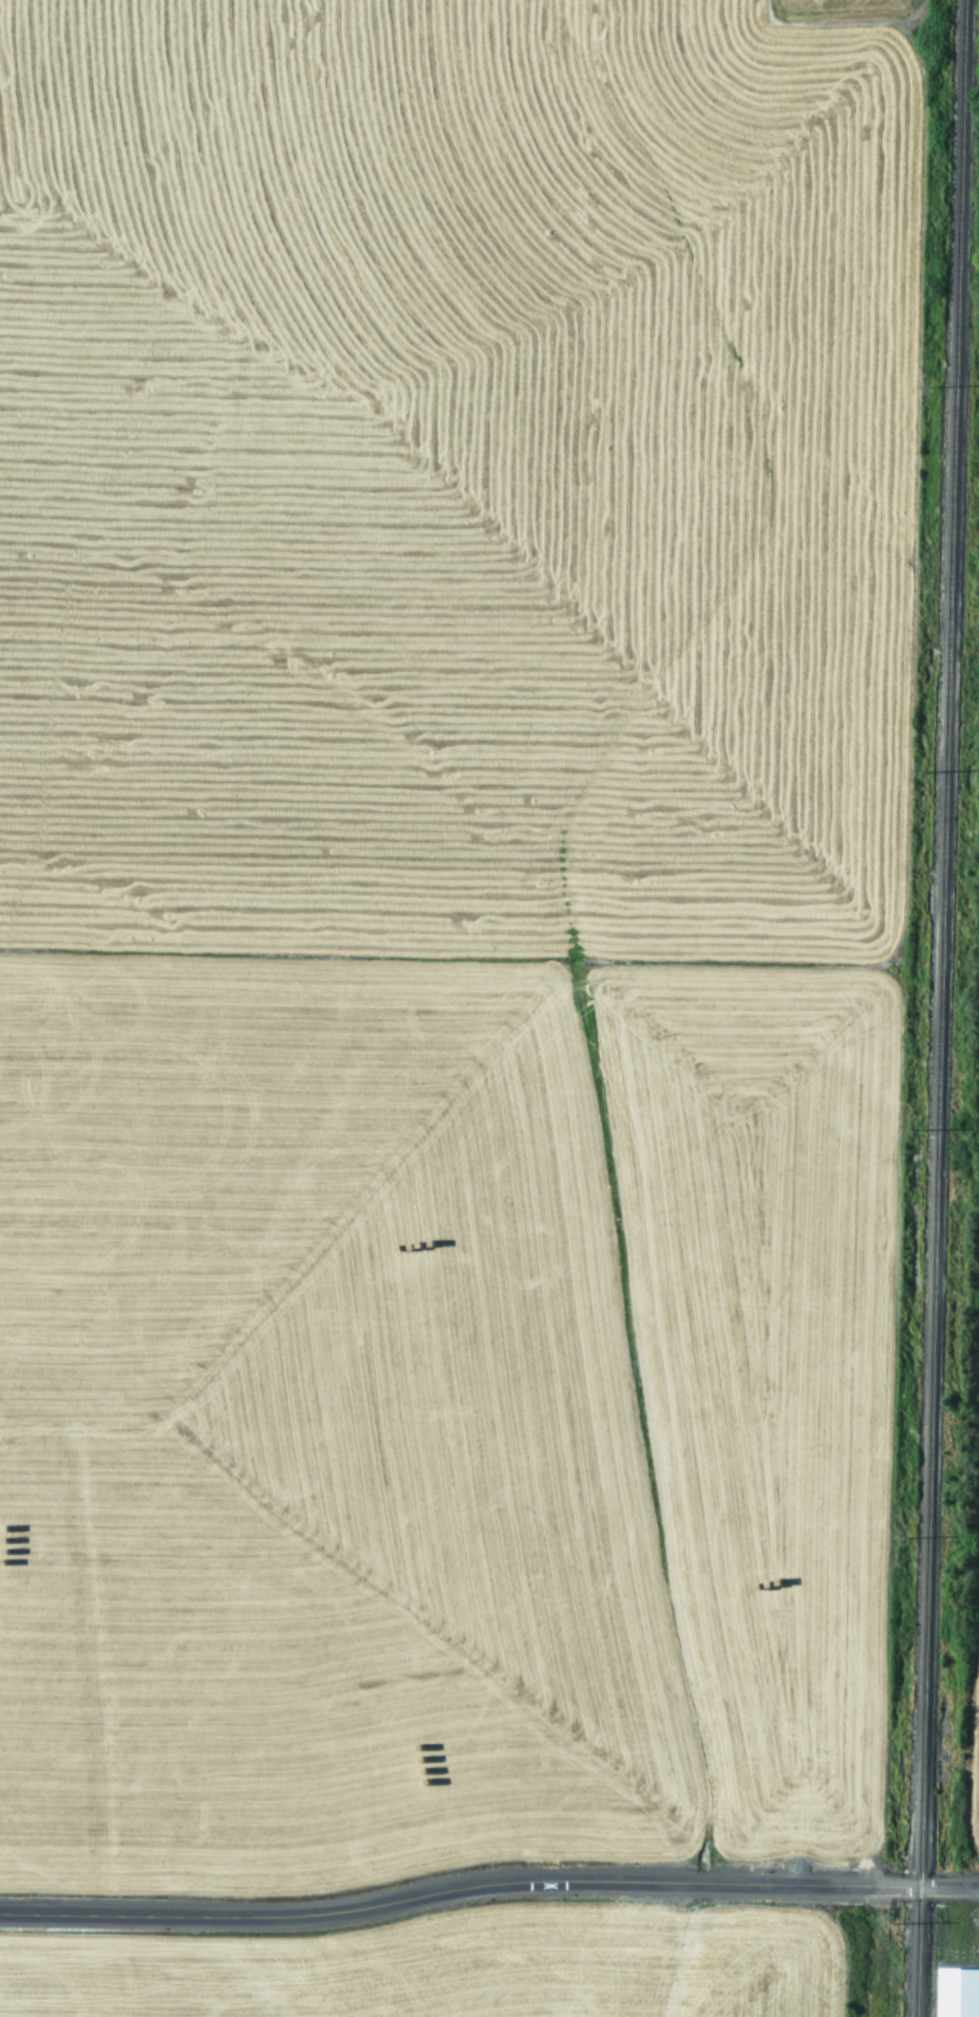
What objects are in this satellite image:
crop: (448, 929)
railway: (939, 1008)
crop: (969, 1441)
road: (488, 1887)
crop: (962, 1966)
crop: (477, 1969)

